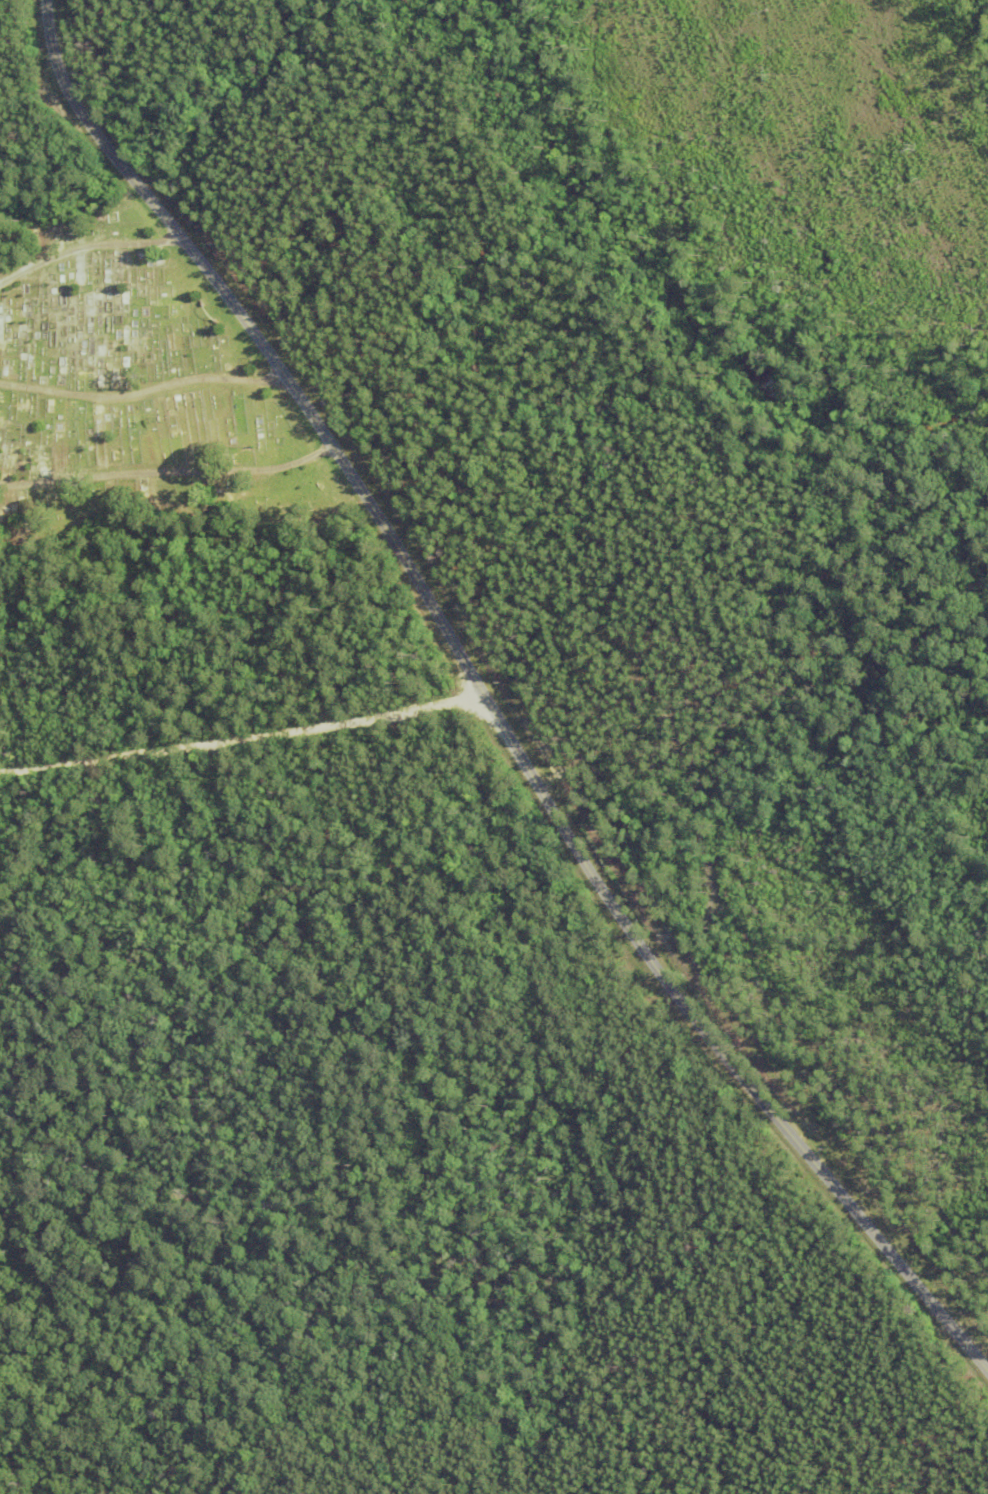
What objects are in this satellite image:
road: (486, 702)
road: (242, 739)

